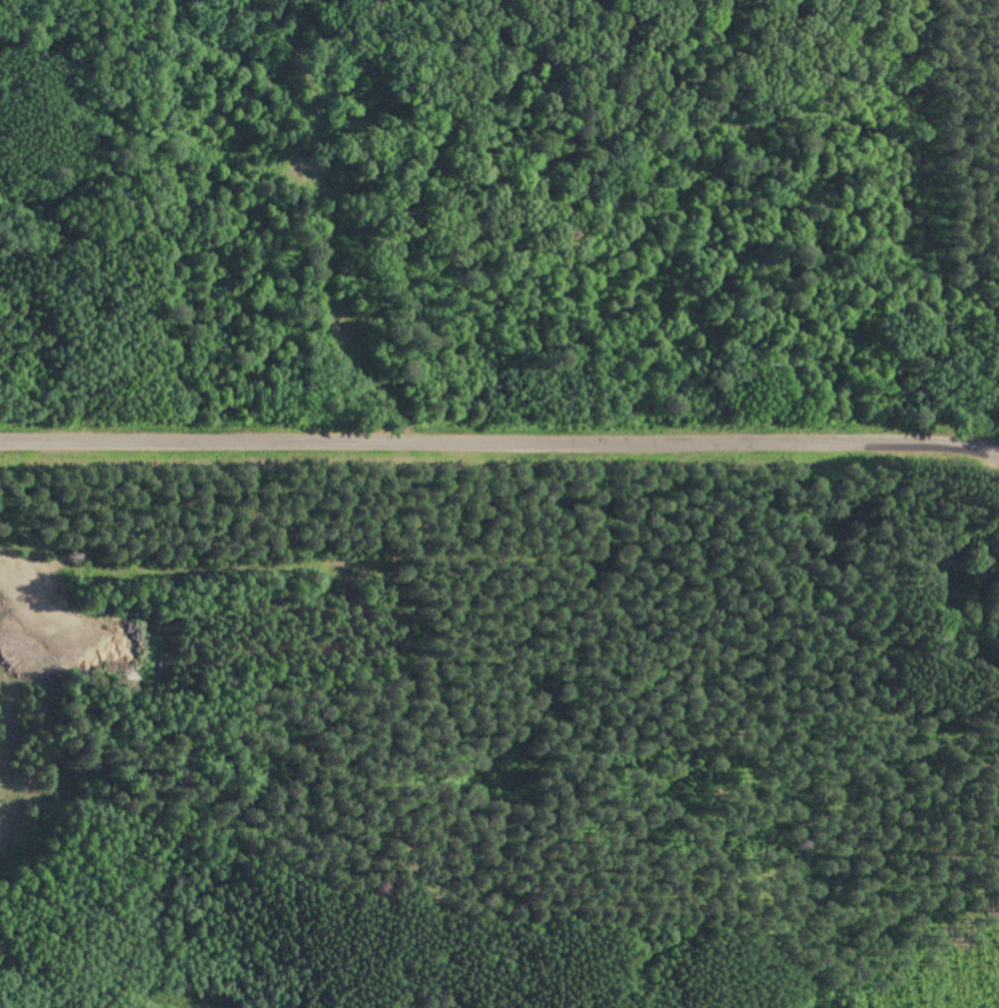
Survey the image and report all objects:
road: (501, 441)

